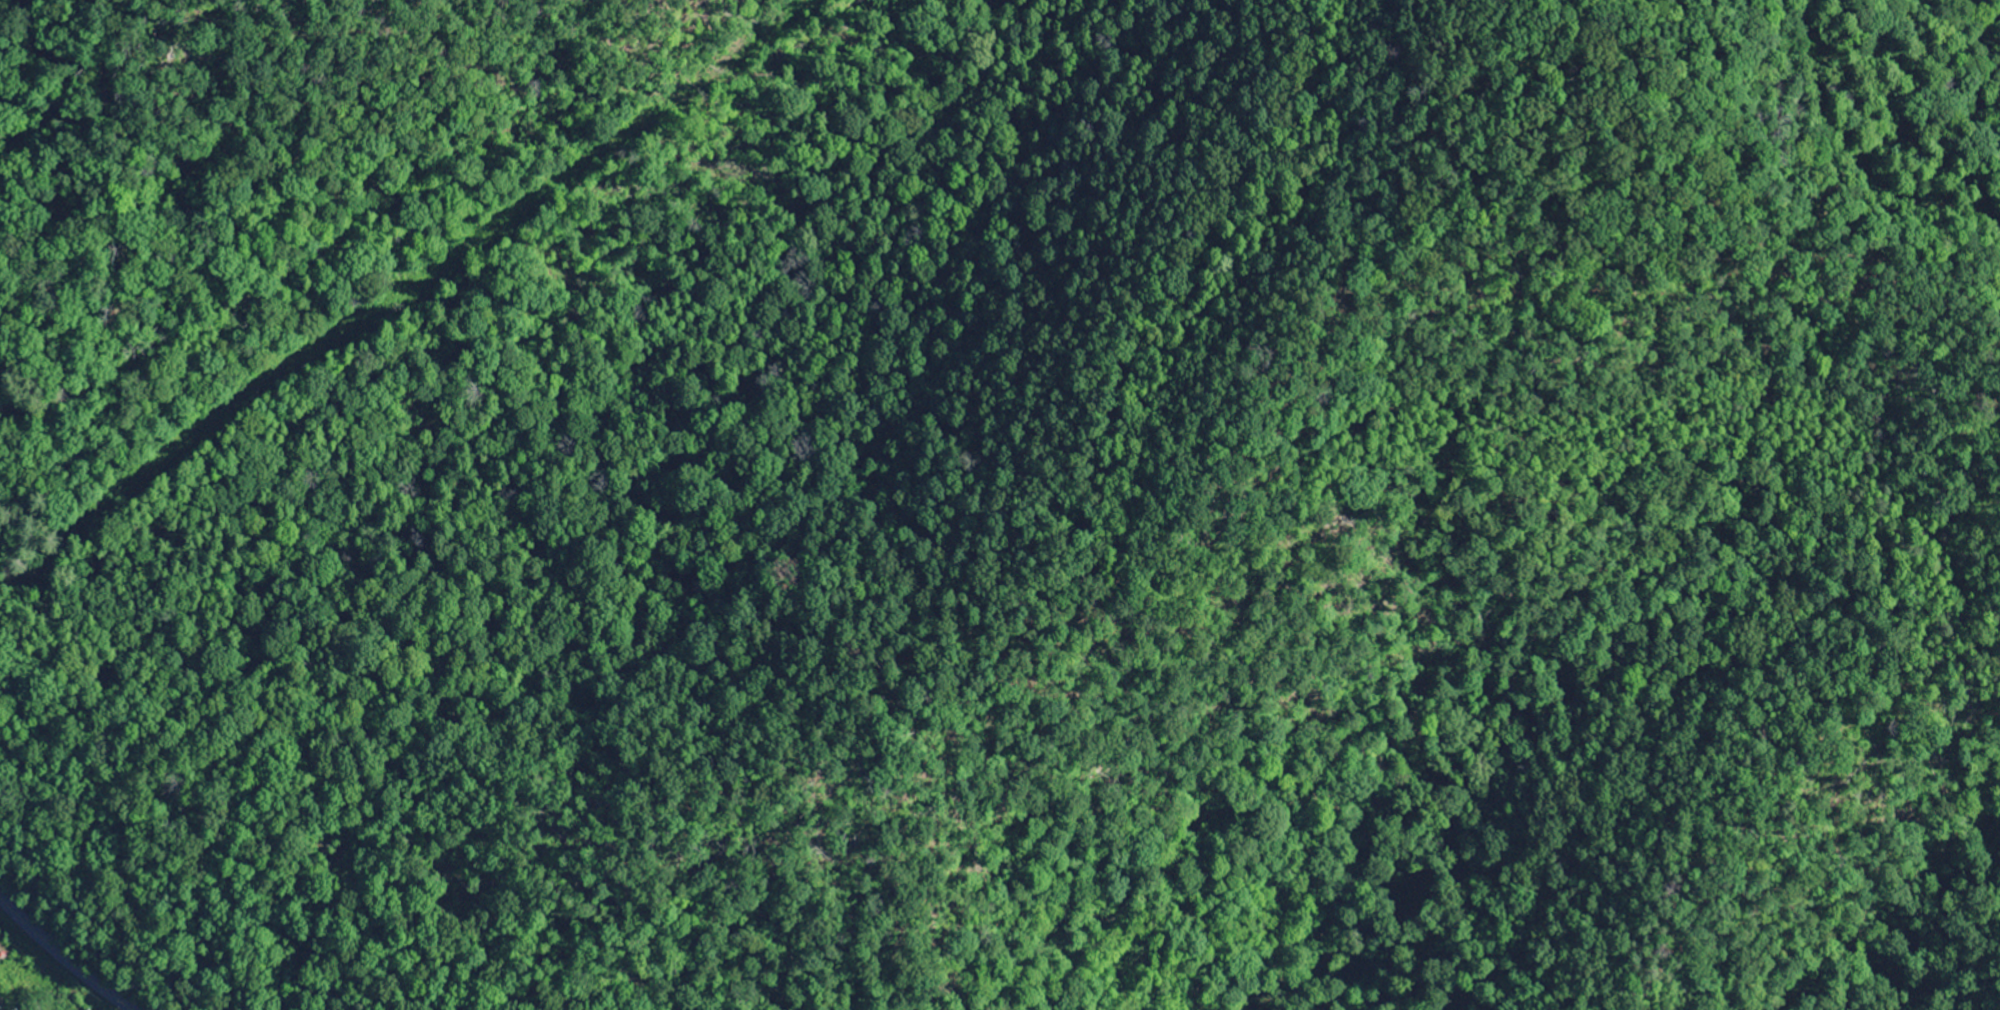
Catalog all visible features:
road: (63, 955)

